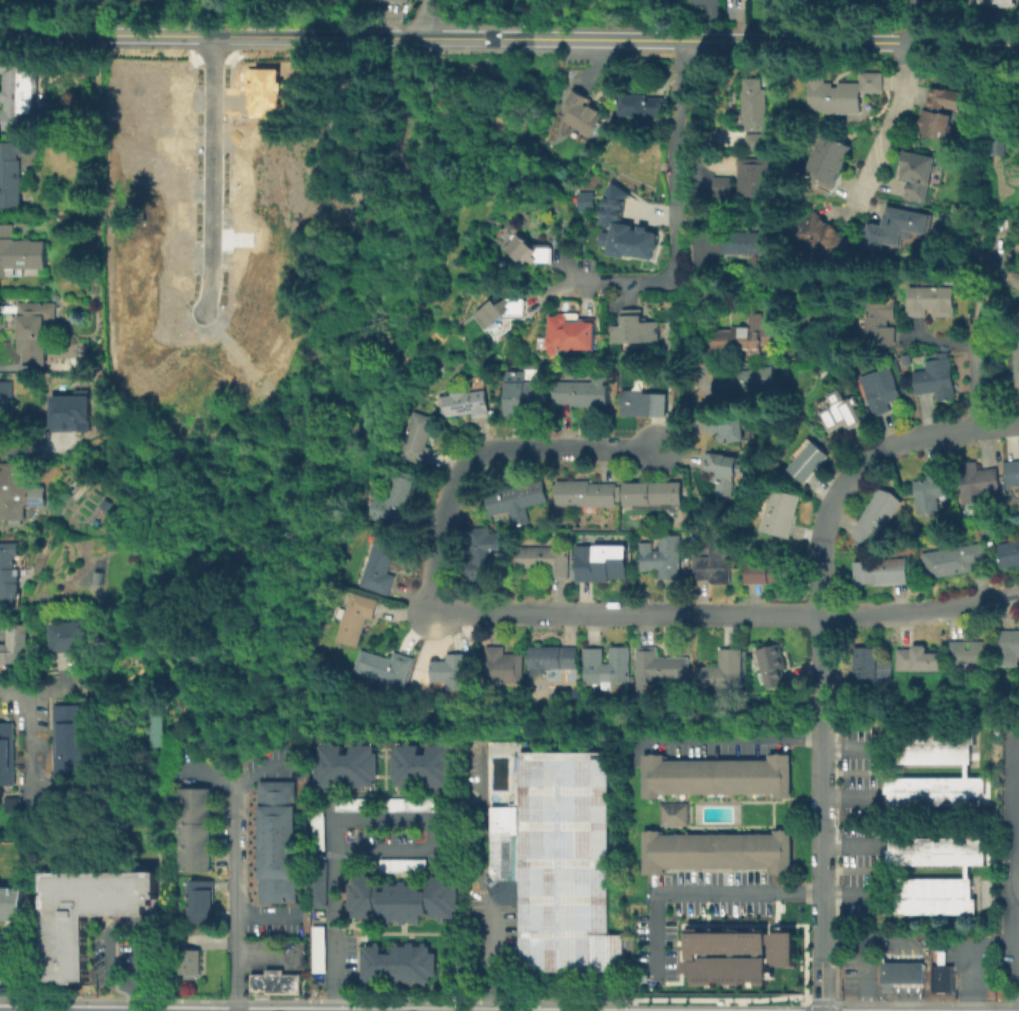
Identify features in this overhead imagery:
building: (403, 1)
building: (1004, 2)
road: (109, 17)
road: (254, 17)
road: (429, 17)
road: (918, 21)
road: (509, 36)
road: (670, 45)
building: (270, 91)
building: (26, 92)
building: (846, 92)
building: (641, 101)
building: (756, 104)
building: (945, 109)
building: (581, 113)
road: (893, 127)
road: (981, 131)
road: (711, 135)
building: (758, 141)
building: (995, 146)
road: (934, 148)
building: (830, 160)
road: (216, 169)
building: (920, 170)
road: (699, 176)
building: (755, 176)
building: (20, 178)
building: (724, 186)
building: (583, 200)
building: (271, 208)
road: (678, 208)
road: (692, 220)
building: (898, 227)
building: (623, 228)
building: (822, 232)
building: (749, 242)
road: (701, 248)
building: (23, 250)
building: (529, 250)
building: (159, 266)
road: (979, 284)
building: (930, 300)
building: (501, 311)
building: (879, 320)
building: (36, 327)
building: (636, 328)
building: (135, 331)
building: (572, 332)
building: (744, 336)
road: (701, 338)
building: (906, 359)
building: (1016, 362)
building: (936, 378)
building: (746, 381)
road: (979, 387)
building: (880, 389)
building: (583, 391)
building: (523, 392)
building: (464, 403)
building: (643, 403)
building: (8, 410)
building: (70, 410)
road: (674, 411)
building: (838, 411)
building: (726, 426)
building: (417, 438)
road: (483, 450)
building: (808, 461)
road: (865, 463)
building: (722, 466)
building: (1012, 470)
building: (978, 479)
building: (18, 490)
building: (931, 490)
building: (653, 492)
building: (585, 493)
building: (395, 499)
building: (517, 499)
building: (780, 512)
building: (879, 516)
building: (1010, 551)
building: (482, 552)
building: (661, 556)
building: (545, 559)
building: (953, 560)
building: (599, 562)
building: (714, 563)
building: (378, 566)
building: (10, 570)
building: (770, 570)
building: (882, 571)
building: (29, 610)
road: (523, 611)
road: (811, 613)
building: (355, 617)
building: (73, 636)
building: (16, 645)
building: (1008, 648)
building: (969, 654)
building: (552, 658)
road: (819, 658)
road: (831, 658)
building: (918, 658)
building: (730, 660)
building: (867, 662)
building: (772, 665)
building: (384, 666)
building: (503, 666)
building: (606, 666)
building: (657, 669)
building: (452, 671)
road: (832, 714)
road: (819, 715)
road: (25, 719)
building: (155, 726)
road: (732, 736)
building: (68, 738)
building: (926, 745)
road: (844, 748)
building: (6, 753)
building: (345, 765)
building: (421, 765)
building: (714, 775)
building: (275, 786)
road: (235, 788)
building: (931, 789)
road: (845, 796)
building: (275, 798)
building: (384, 803)
building: (21, 804)
building: (275, 810)
building: (671, 813)
road: (428, 820)
building: (275, 822)
road: (818, 825)
building: (193, 828)
building: (316, 829)
building: (275, 835)
road: (1014, 842)
road: (848, 845)
building: (275, 847)
building: (714, 850)
building: (931, 851)
building: (275, 859)
building: (556, 861)
building: (401, 864)
building: (275, 871)
road: (478, 875)
building: (275, 883)
building: (316, 883)
road: (1017, 883)
building: (197, 889)
road: (722, 893)
building: (925, 895)
building: (275, 896)
building: (401, 897)
road: (234, 900)
building: (11, 902)
building: (197, 910)
building: (86, 912)
road: (258, 914)
road: (108, 925)
road: (334, 930)
road: (839, 938)
road: (893, 939)
road: (210, 940)
building: (8, 941)
parking lot: (988, 946)
building: (316, 948)
building: (735, 954)
road: (968, 954)
road: (260, 957)
building: (183, 958)
road: (834, 958)
building: (396, 963)
road: (7, 966)
road: (818, 967)
road: (861, 974)
building: (902, 977)
road: (903, 977)
building: (941, 980)
building: (276, 981)
road: (136, 996)
road: (110, 998)
road: (234, 1000)
road: (820, 1000)
road: (560, 1001)
road: (903, 1001)
road: (804, 1005)
road: (835, 1006)

